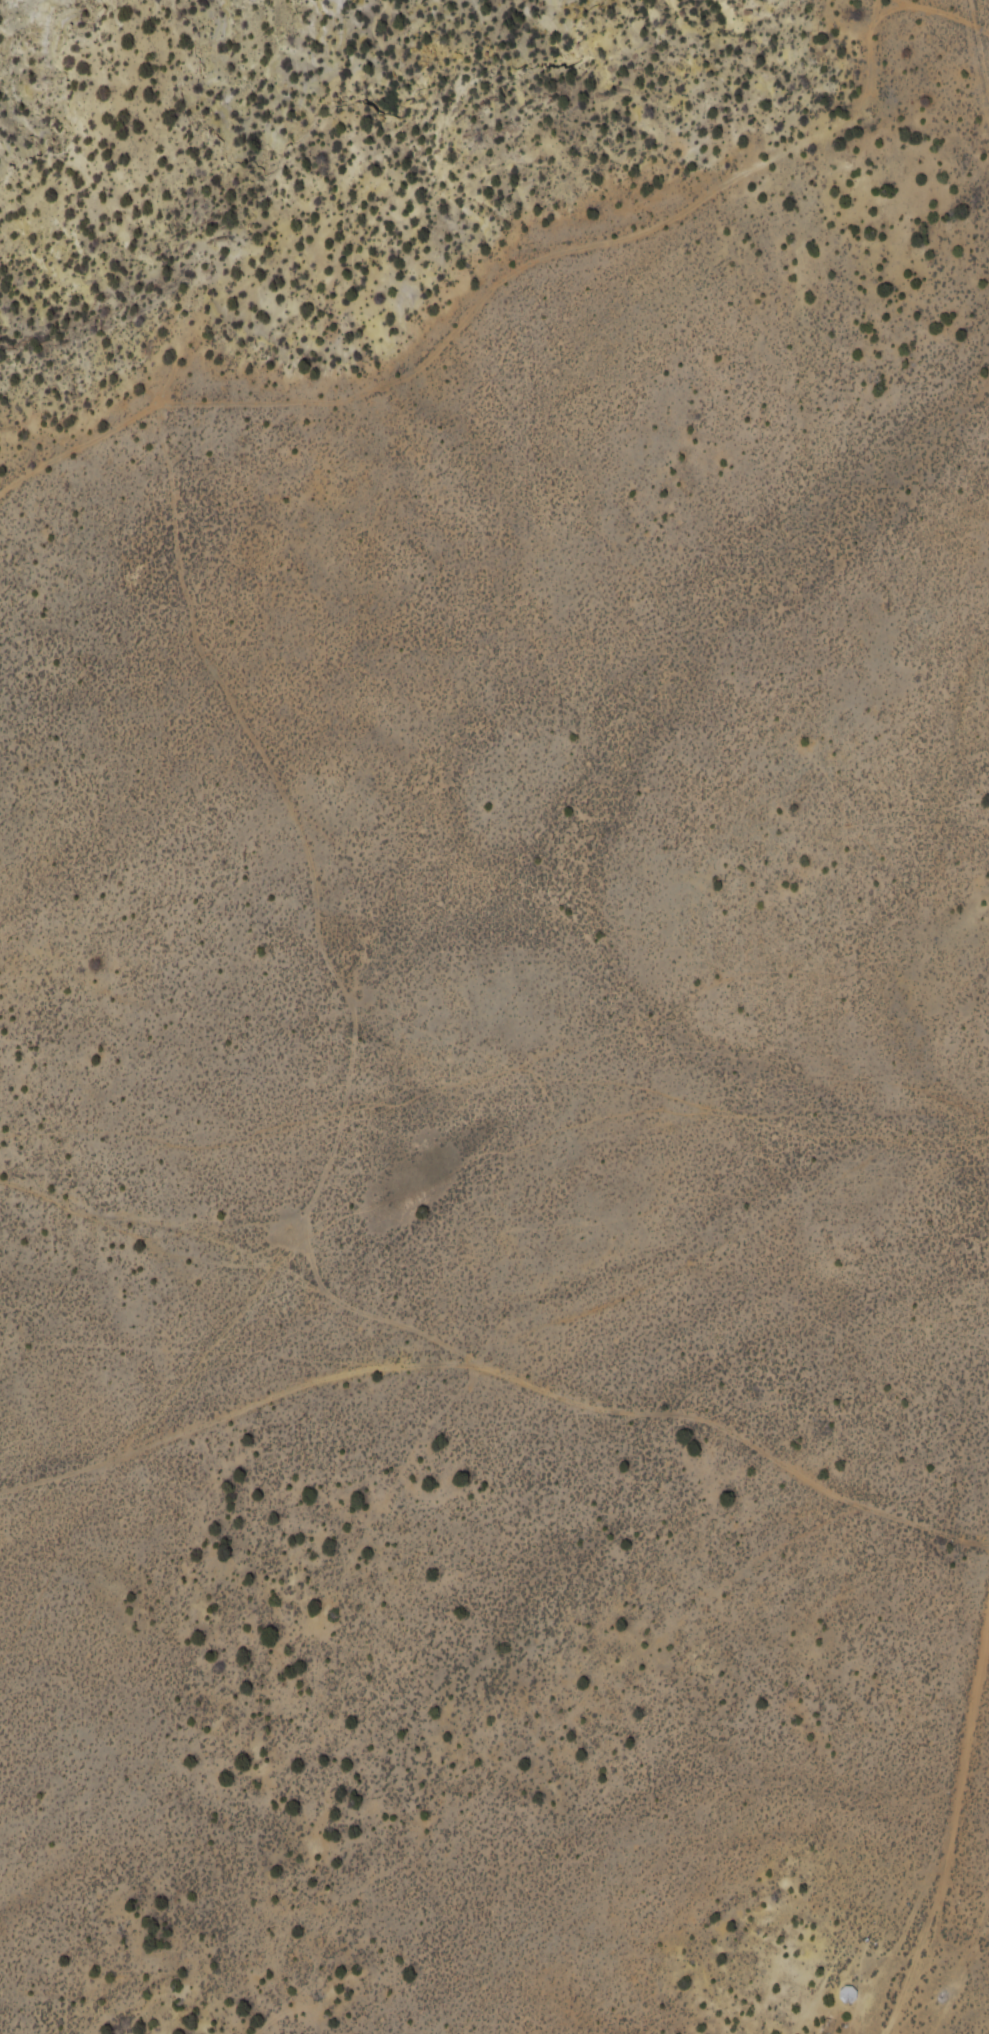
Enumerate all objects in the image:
road: (492, 291)
road: (500, 1409)

